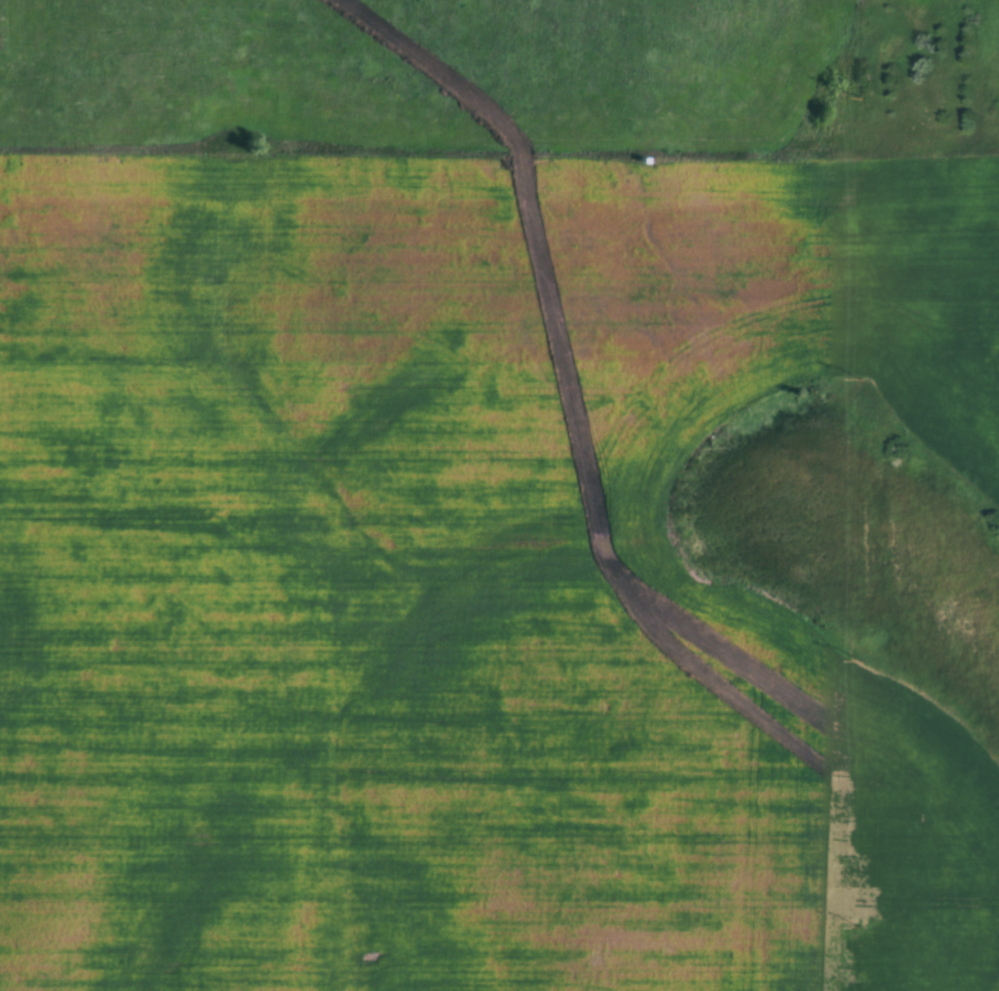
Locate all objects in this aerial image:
river: (969, 671)

